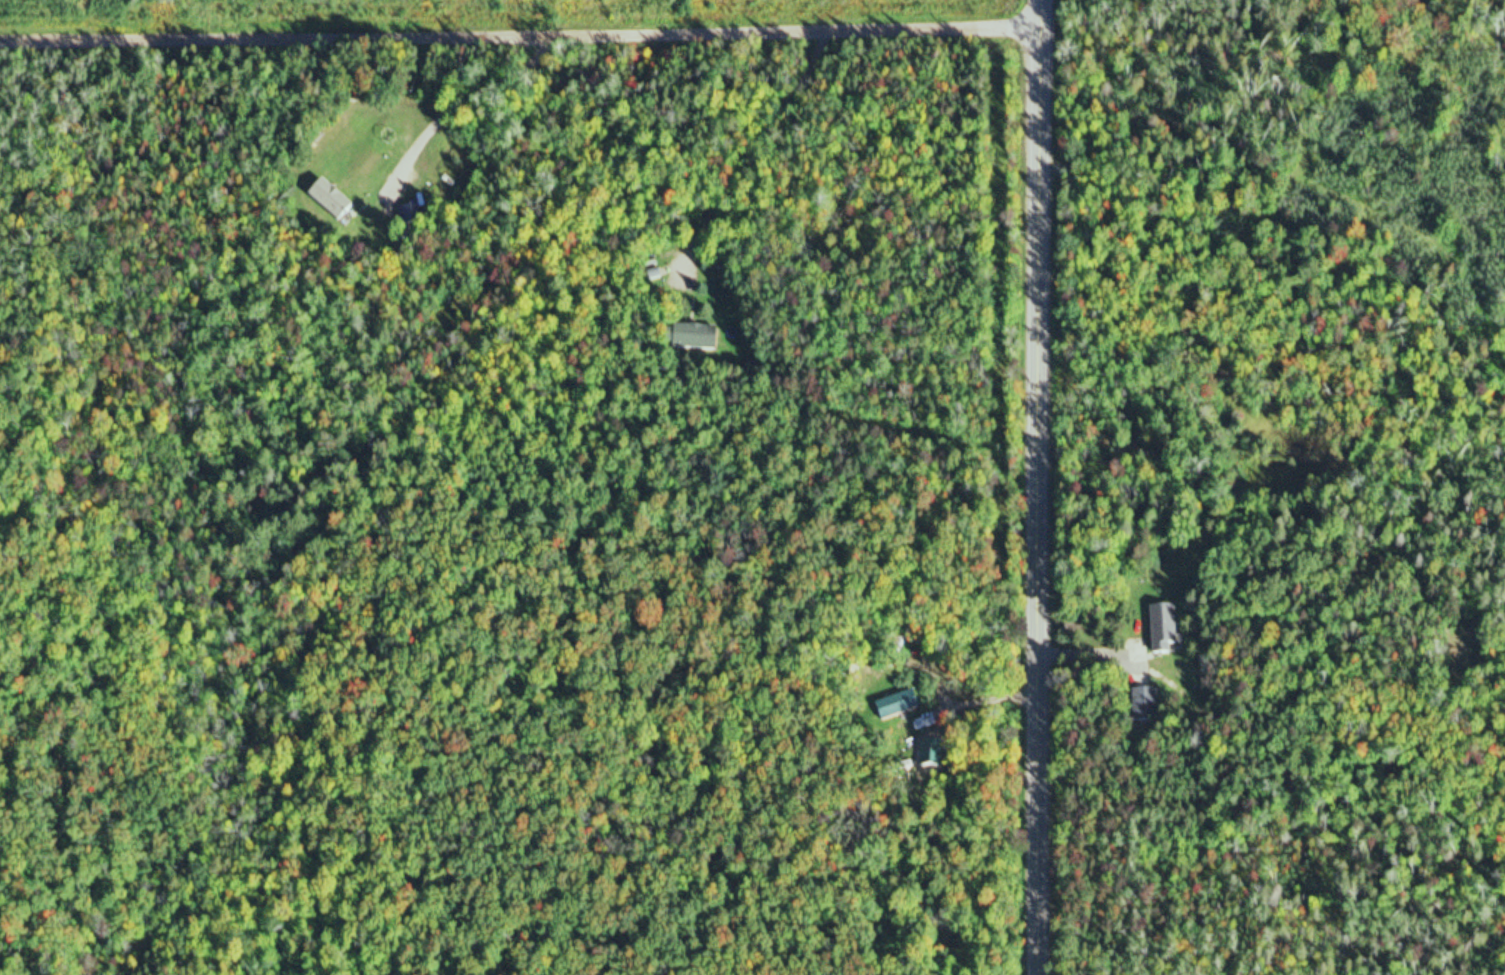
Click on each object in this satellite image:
road: (522, 34)
building: (332, 201)
building: (412, 215)
building: (698, 338)
road: (1041, 487)
building: (1166, 629)
building: (1149, 704)
building: (898, 705)

